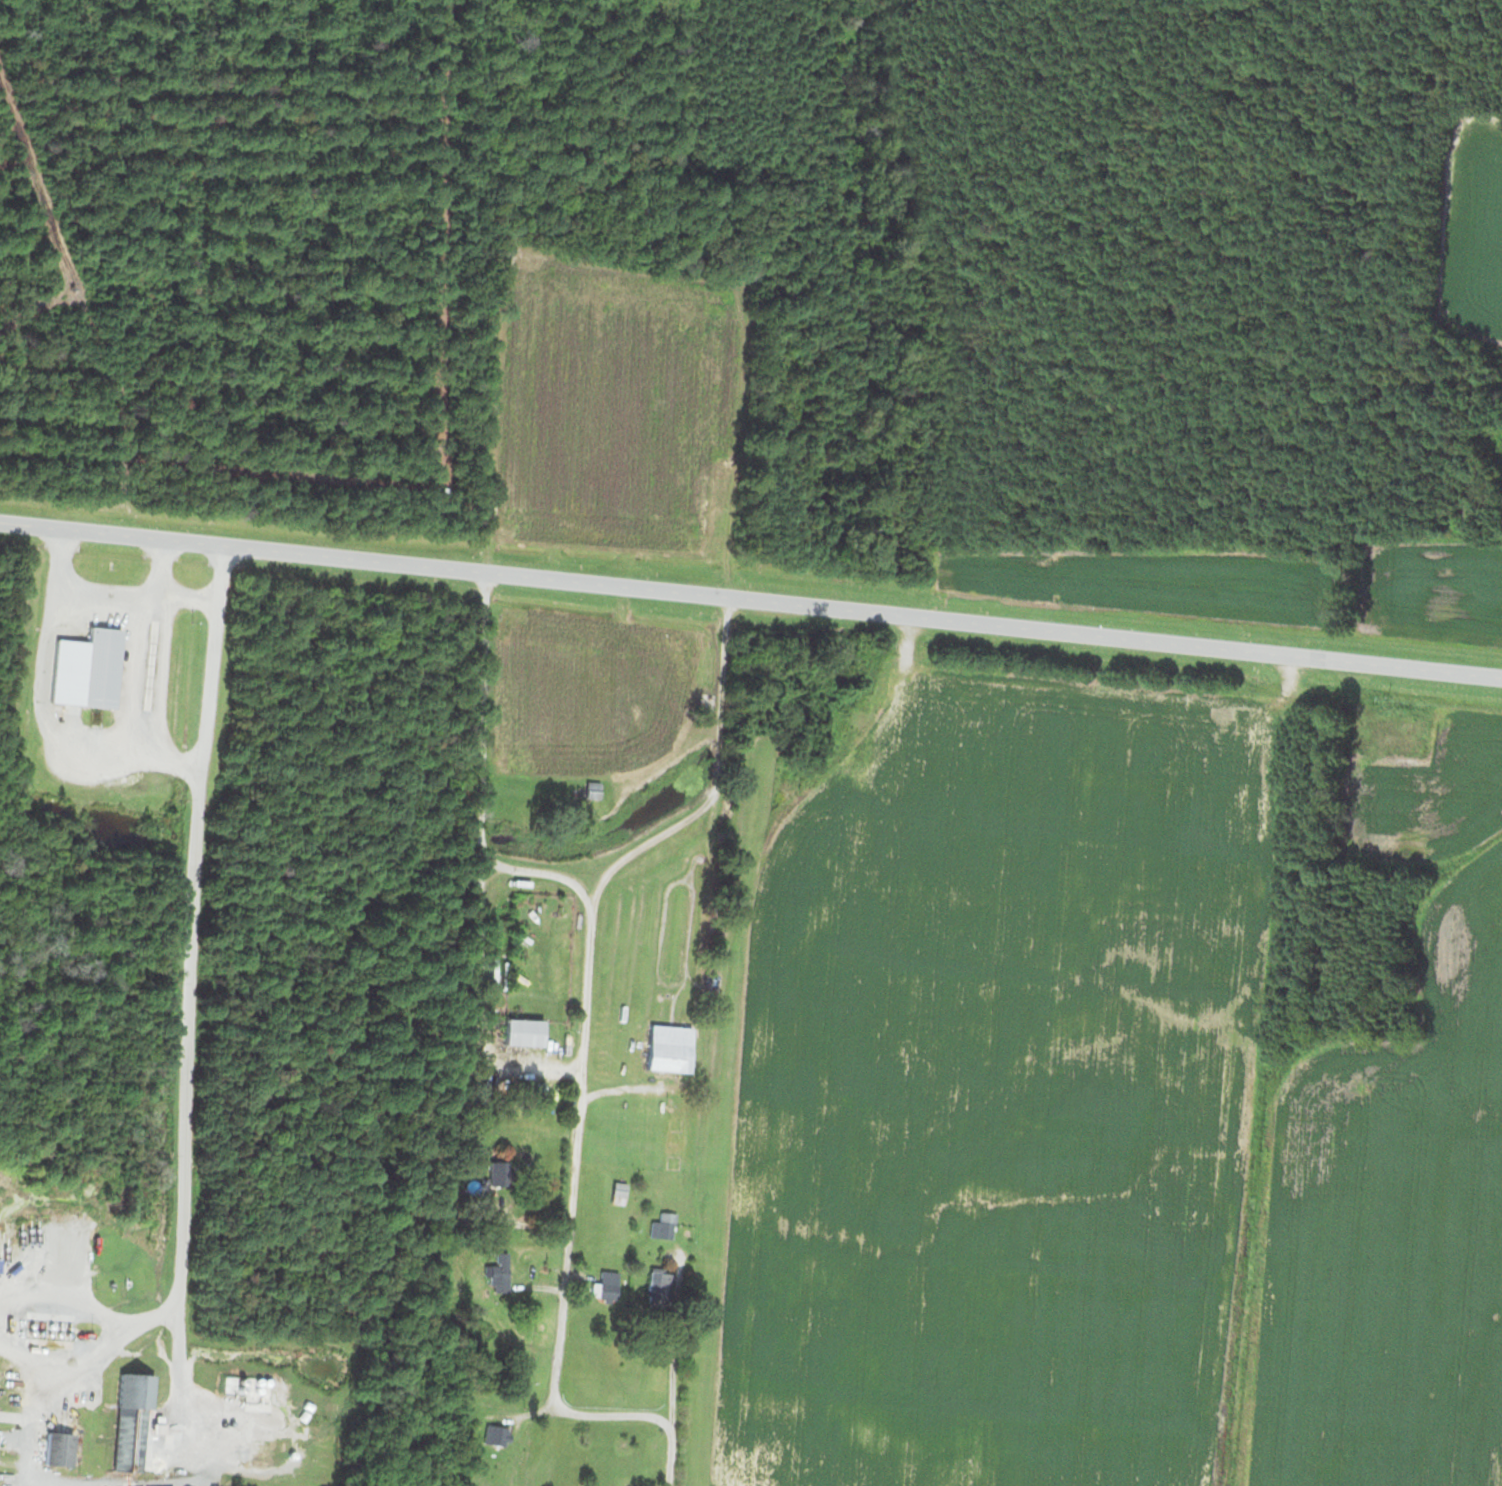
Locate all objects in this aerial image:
road: (159, 569)
road: (137, 598)
road: (750, 600)
building: (97, 666)
road: (132, 679)
road: (122, 759)
road: (480, 774)
building: (589, 788)
road: (483, 997)
road: (579, 1026)
building: (519, 1031)
building: (666, 1047)
road: (181, 1057)
road: (622, 1088)
building: (615, 1192)
building: (660, 1225)
building: (495, 1272)
building: (605, 1285)
building: (657, 1288)
road: (64, 1289)
road: (59, 1361)
road: (176, 1363)
road: (670, 1365)
building: (119, 1422)
building: (494, 1434)
building: (55, 1448)

